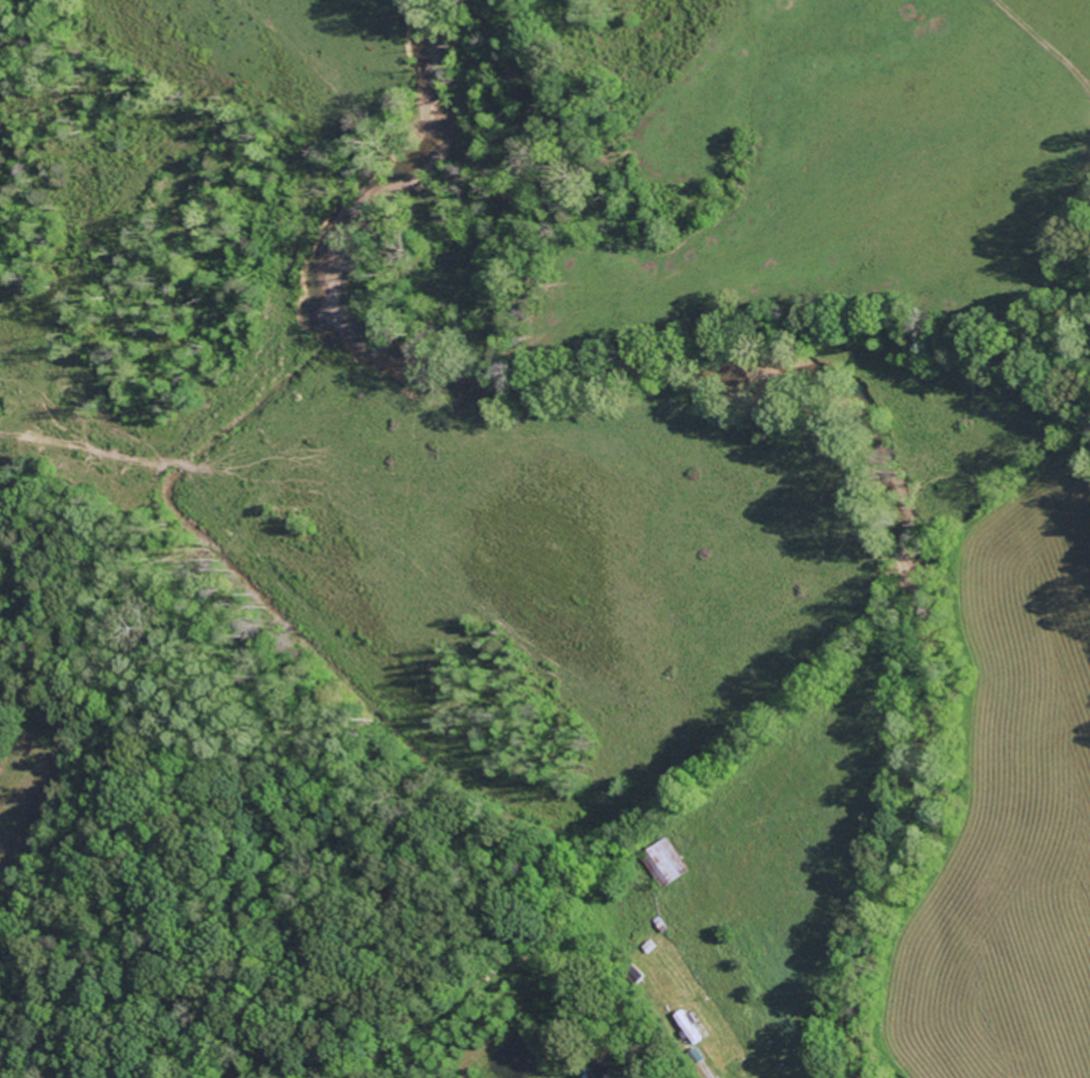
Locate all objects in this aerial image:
road: (444, 1045)
building: (602, 1070)

